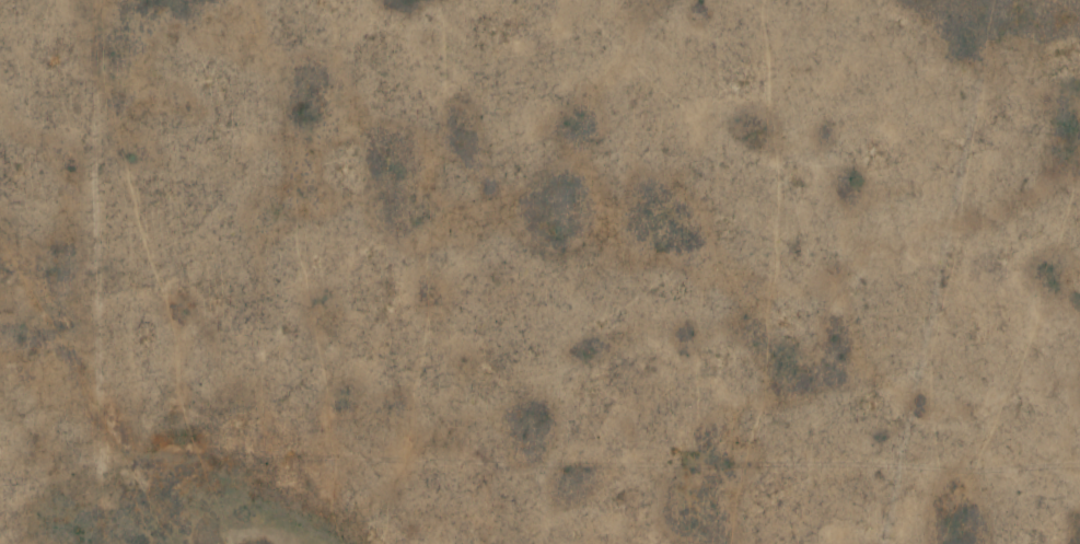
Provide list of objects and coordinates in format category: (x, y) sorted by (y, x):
road: (113, 271)

